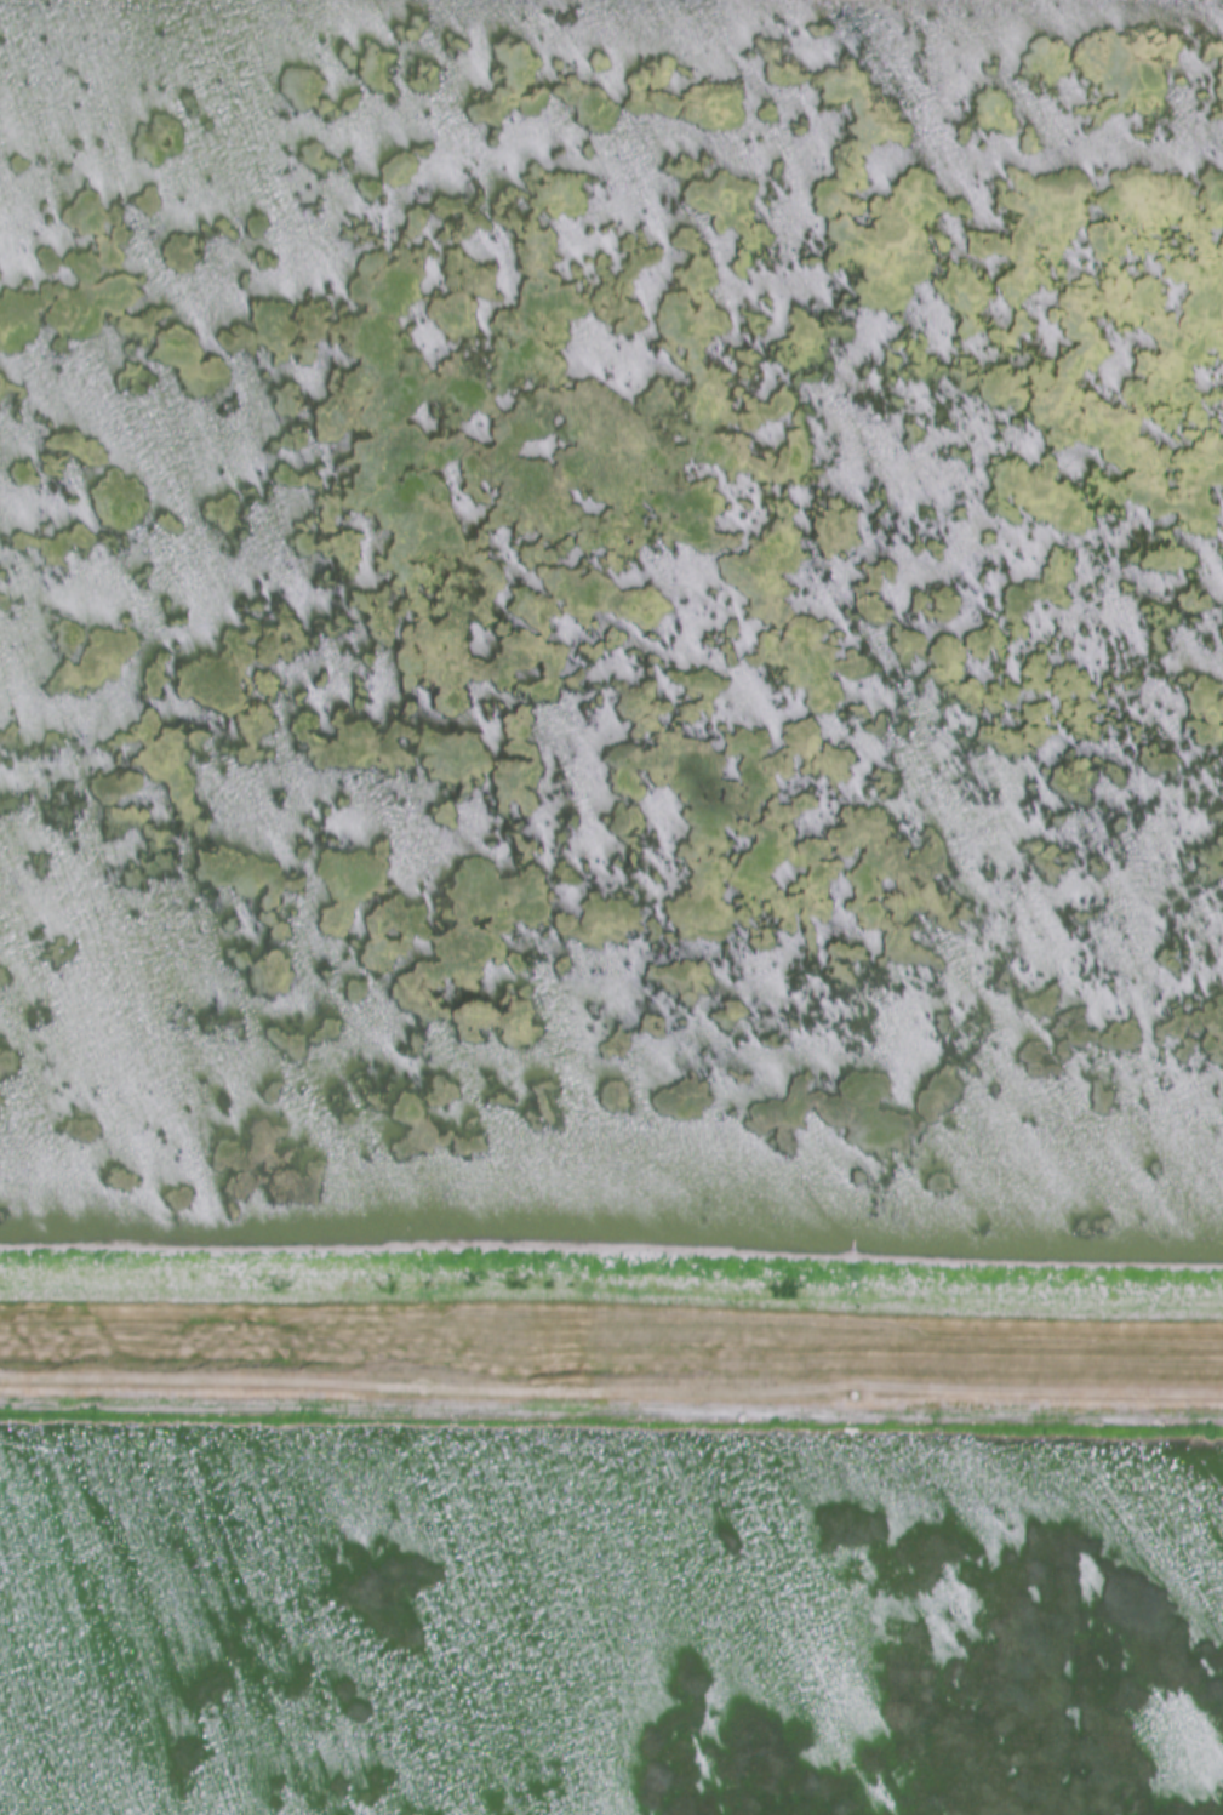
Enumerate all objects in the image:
wastewater plant: (611, 907)
road: (611, 1386)

